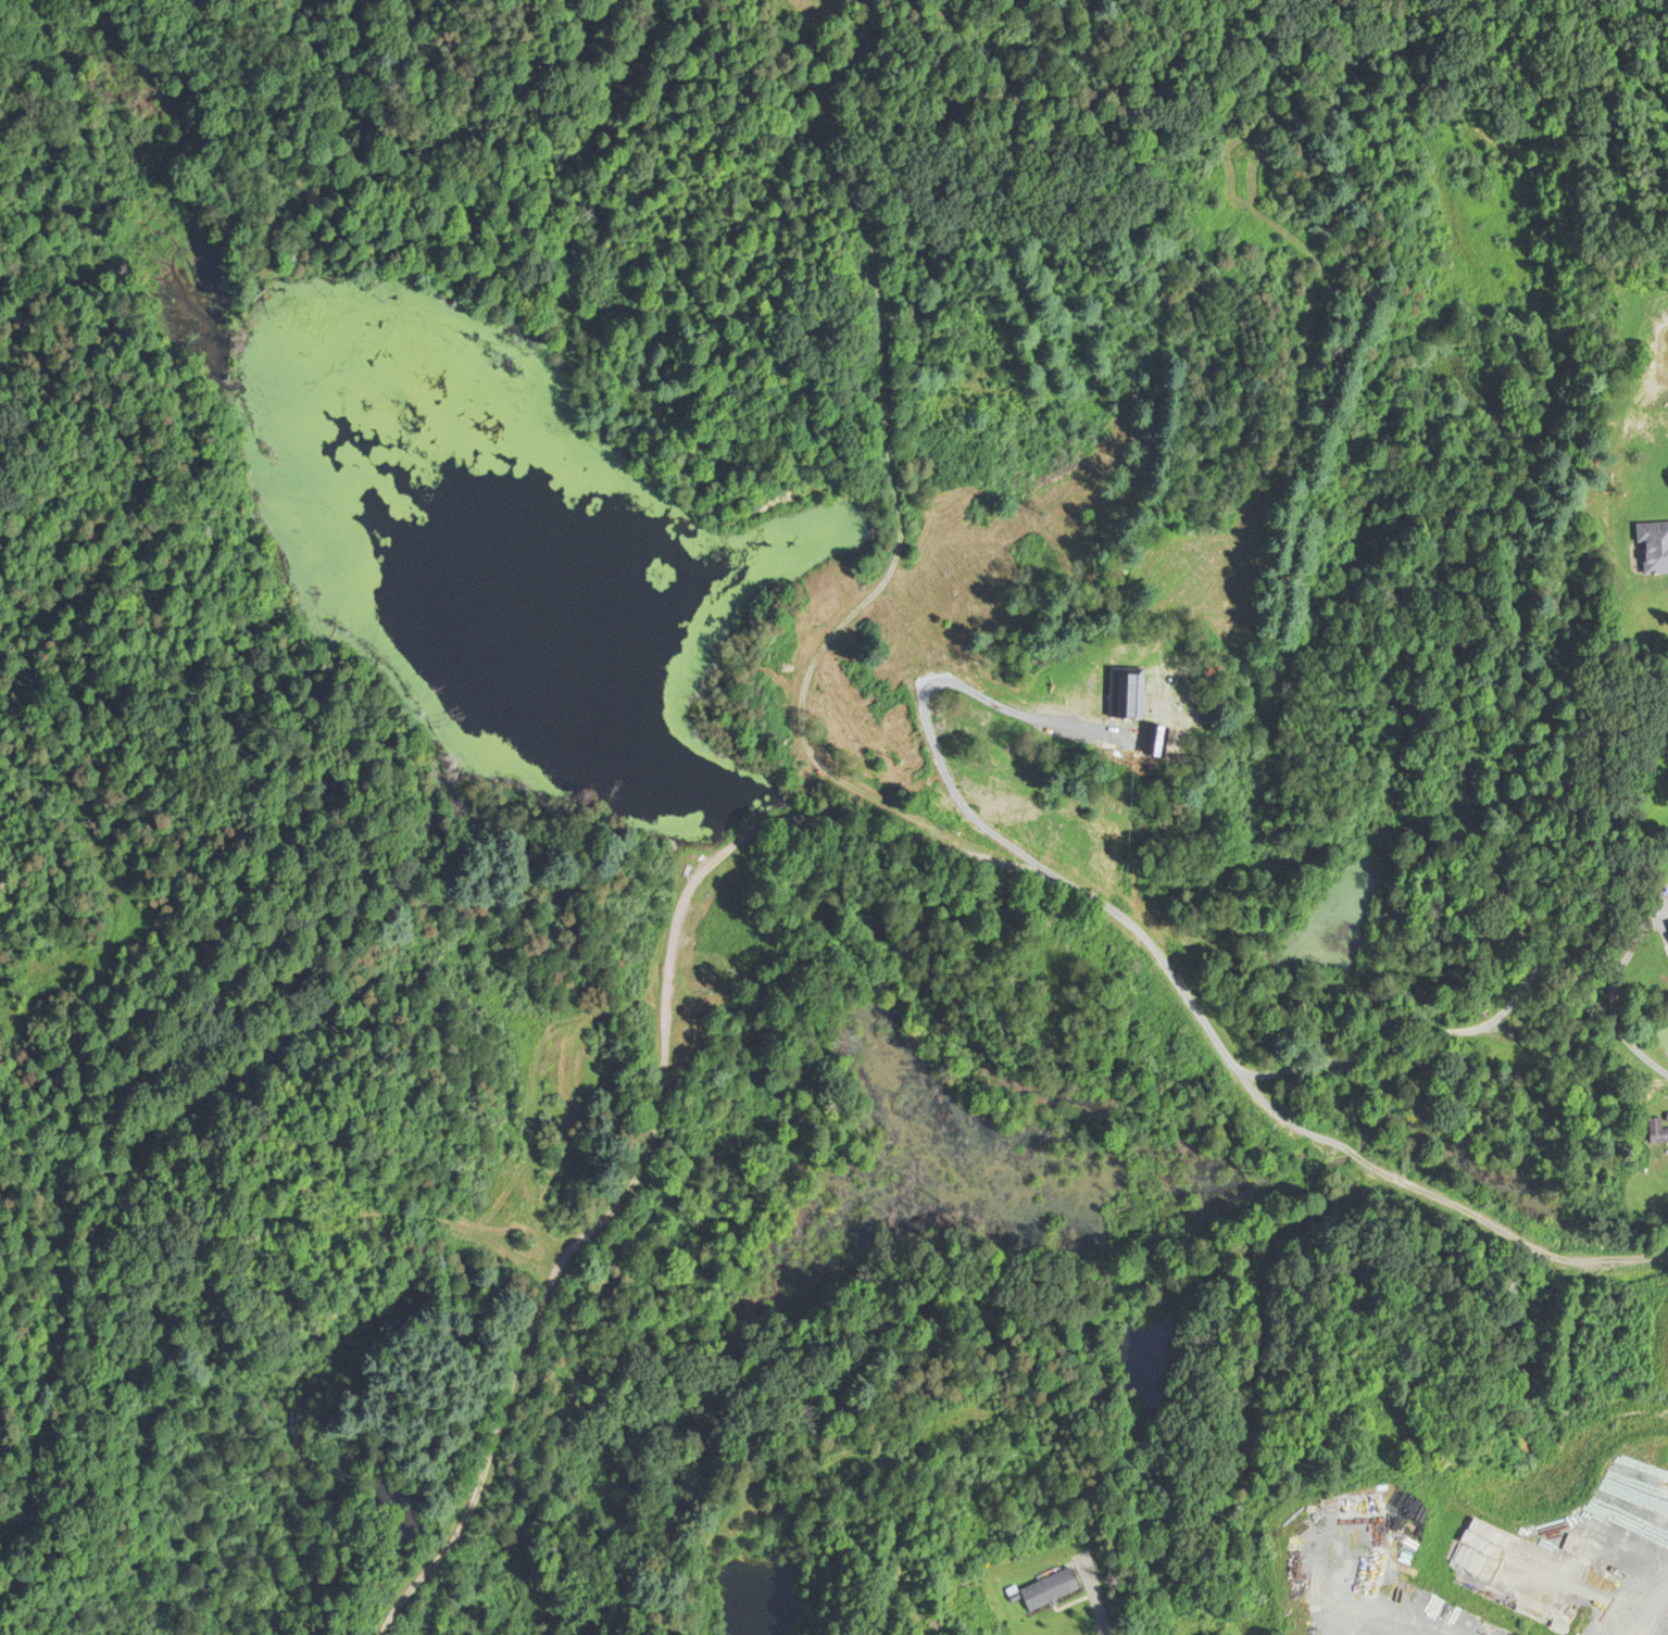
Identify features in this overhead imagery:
road: (940, 443)
building: (1656, 531)
road: (822, 833)
road: (1618, 992)
building: (1659, 1130)
road: (1171, 1338)
building: (1052, 1586)
road: (1094, 1597)

